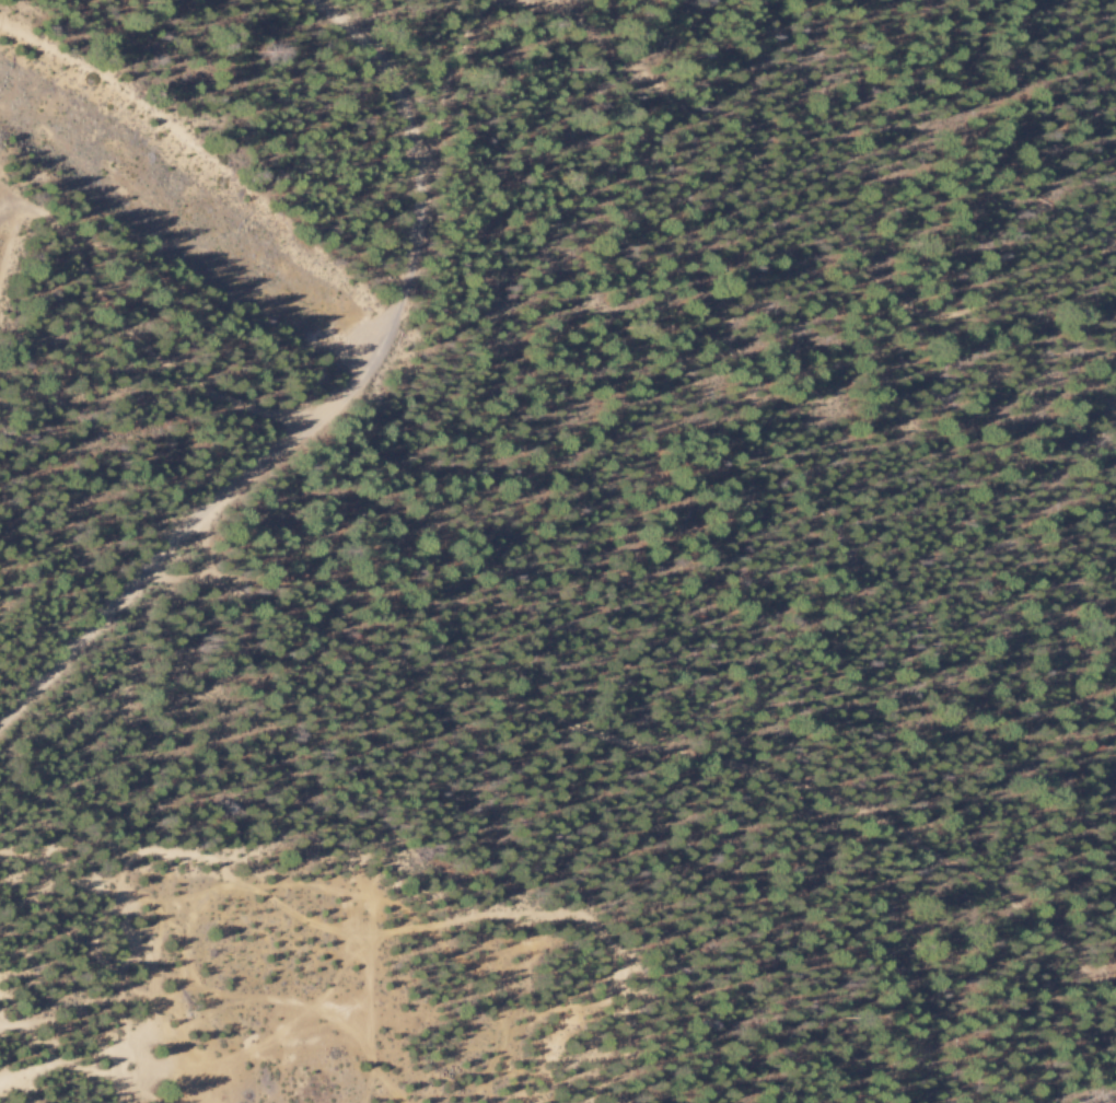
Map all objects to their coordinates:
road: (445, 85)
road: (814, 214)
road: (147, 348)
road: (333, 400)
road: (206, 549)
road: (651, 745)

